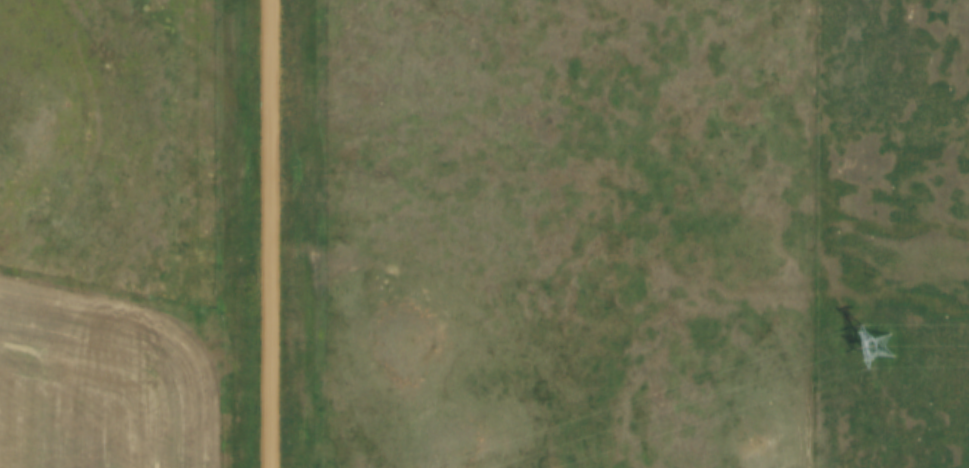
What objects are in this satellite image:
road: (271, 233)
power tower: (899, 343)

